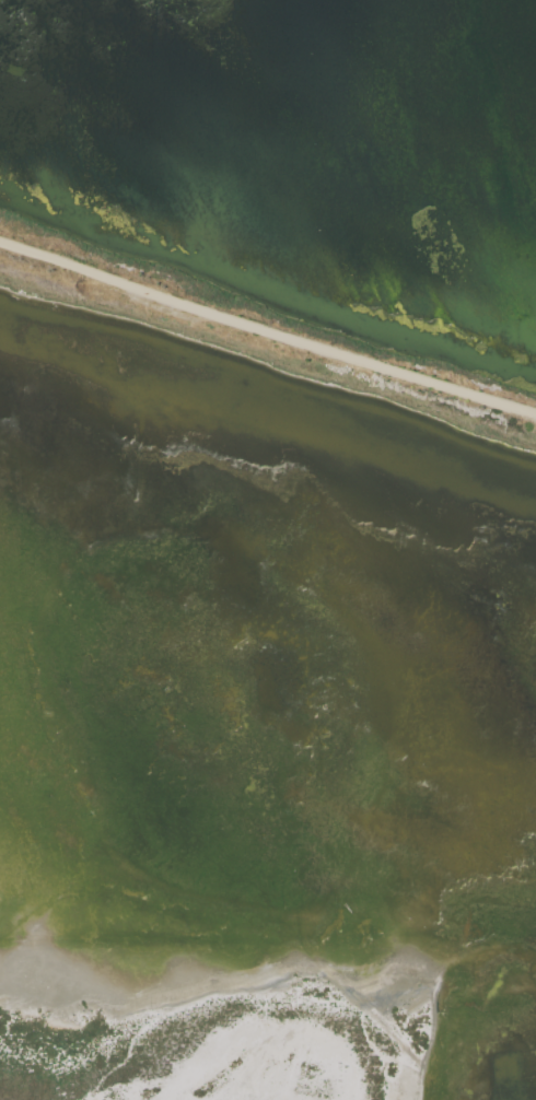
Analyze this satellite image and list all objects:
road: (267, 330)

